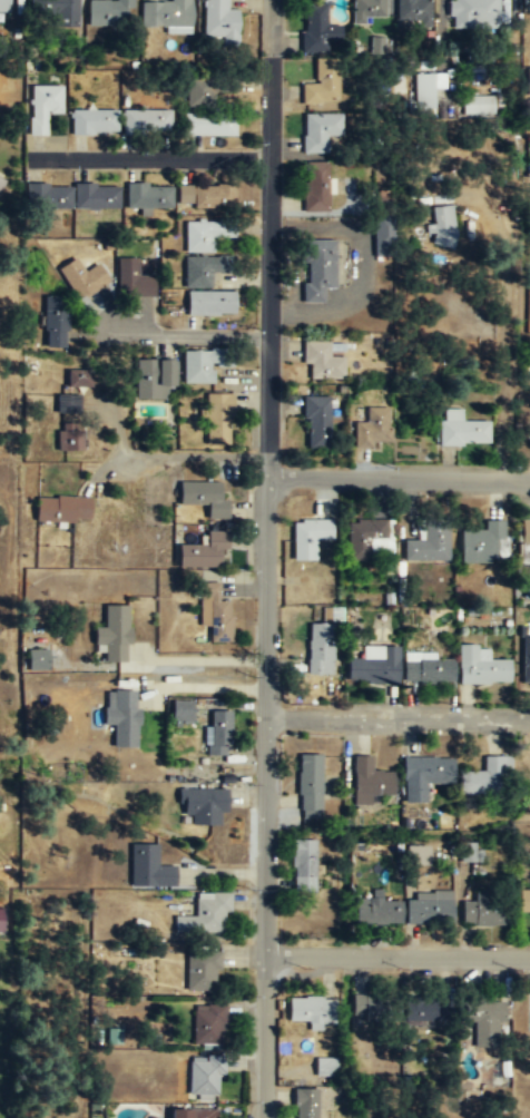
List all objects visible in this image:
building: (4, 6)
building: (56, 9)
building: (370, 10)
building: (413, 11)
building: (109, 12)
building: (473, 12)
building: (167, 14)
building: (219, 21)
road: (271, 27)
building: (316, 29)
building: (529, 81)
building: (321, 89)
building: (425, 92)
building: (200, 95)
building: (43, 106)
building: (478, 106)
building: (94, 122)
building: (146, 122)
building: (209, 127)
building: (320, 131)
street lamp: (257, 141)
road: (151, 158)
building: (1, 182)
building: (315, 187)
building: (206, 196)
building: (49, 197)
building: (97, 197)
building: (148, 198)
building: (440, 227)
building: (205, 235)
building: (384, 235)
building: (204, 269)
building: (317, 269)
building: (82, 278)
building: (134, 281)
building: (209, 303)
building: (56, 323)
road: (502, 324)
road: (187, 334)
building: (322, 361)
building: (200, 365)
building: (153, 377)
building: (79, 379)
building: (68, 404)
building: (219, 419)
building: (317, 422)
building: (373, 429)
building: (461, 429)
building: (70, 437)
road: (196, 455)
road: (397, 479)
building: (202, 497)
building: (61, 508)
building: (524, 530)
building: (306, 536)
building: (361, 536)
building: (426, 540)
building: (479, 541)
building: (200, 549)
road: (265, 585)
building: (212, 610)
building: (110, 631)
building: (317, 647)
building: (39, 658)
building: (524, 658)
building: (373, 666)
building: (478, 666)
building: (426, 670)
building: (183, 710)
road: (397, 716)
building: (119, 717)
building: (216, 730)
building: (482, 773)
building: (422, 774)
building: (366, 779)
building: (306, 781)
building: (200, 803)
building: (468, 852)
building: (414, 853)
building: (301, 864)
building: (146, 866)
building: (7, 871)
building: (522, 900)
building: (484, 908)
building: (374, 910)
building: (426, 911)
building: (203, 913)
building: (1, 919)
road: (396, 957)
building: (199, 968)
building: (373, 1007)
building: (422, 1008)
building: (308, 1009)
building: (480, 1018)
building: (206, 1023)
park: (3, 1030)
building: (323, 1066)
building: (202, 1075)
building: (303, 1102)
building: (177, 1114)
building: (202, 1114)

